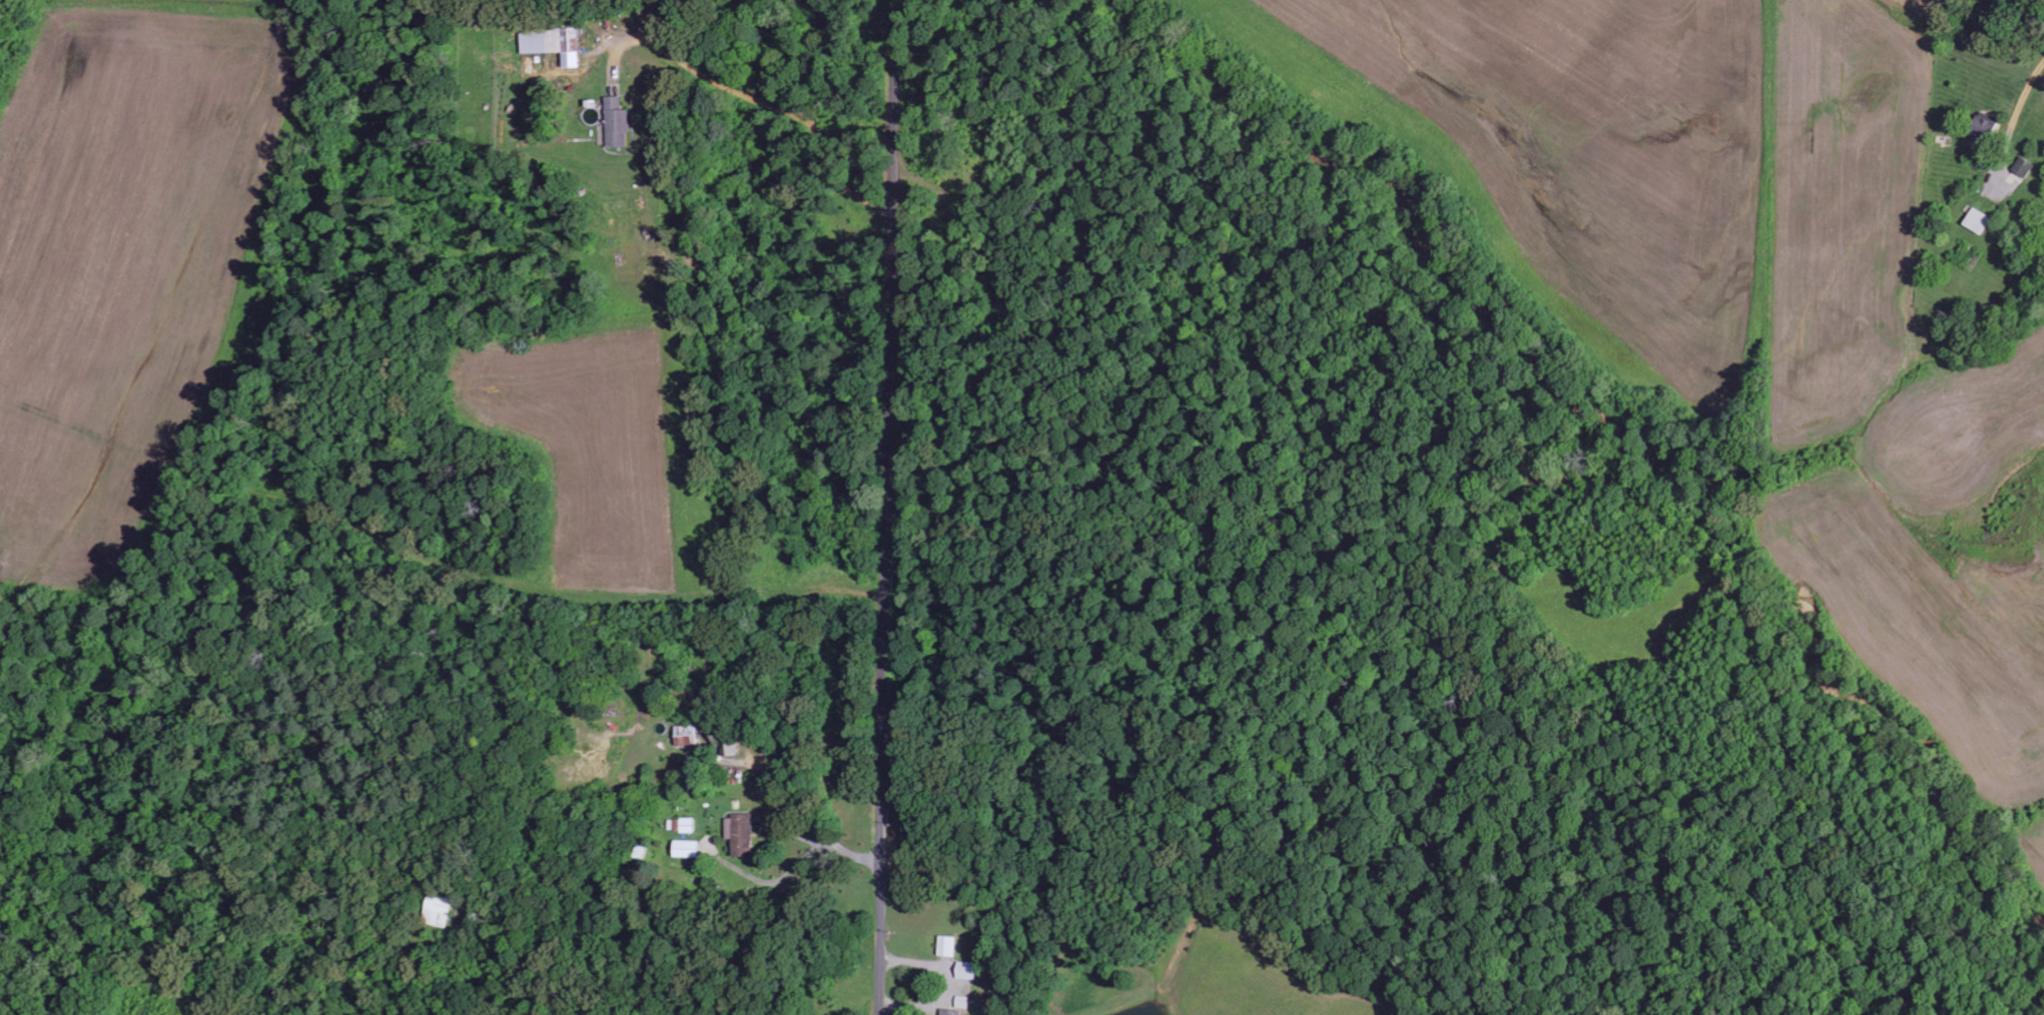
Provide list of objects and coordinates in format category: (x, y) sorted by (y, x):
building: (551, 43)
road: (2028, 99)
building: (616, 122)
building: (1982, 125)
building: (2024, 167)
building: (1977, 221)
road: (891, 507)
building: (687, 736)
building: (739, 834)
building: (685, 848)
building: (949, 946)
building: (969, 970)
building: (952, 1012)

